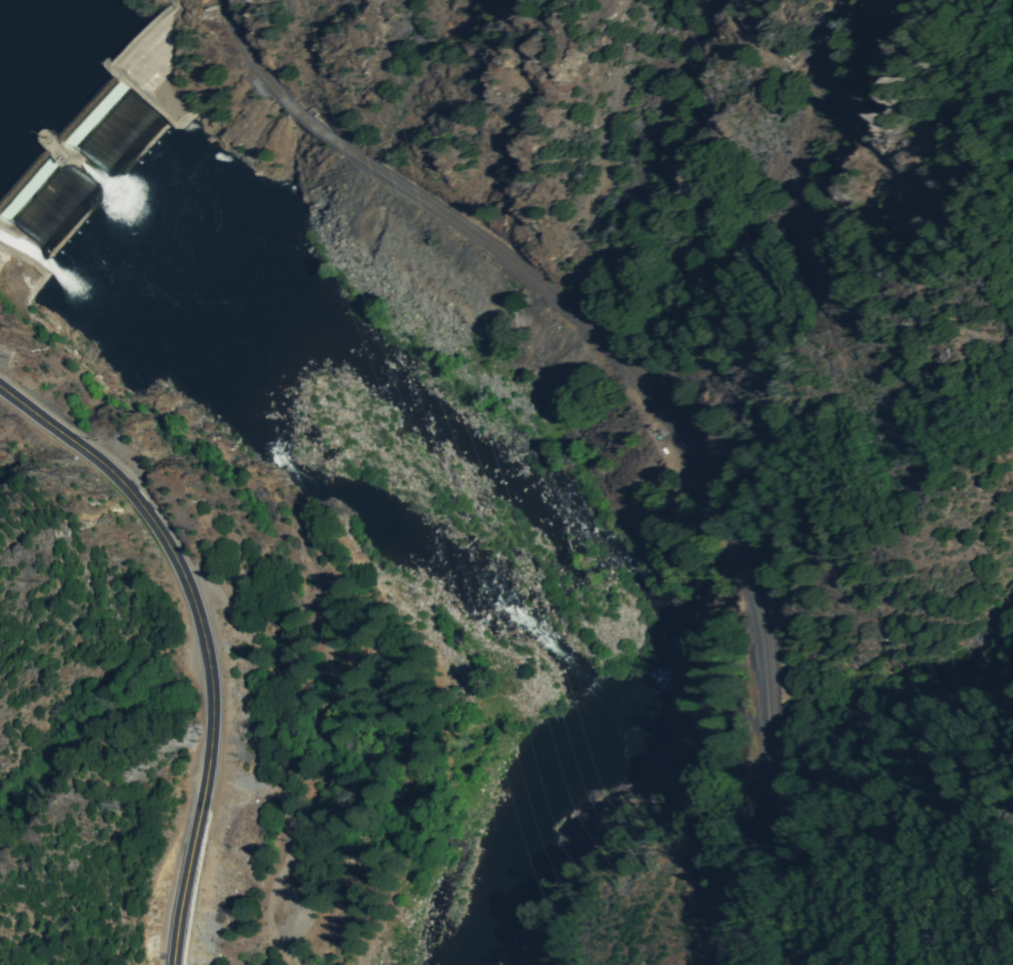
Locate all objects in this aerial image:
dam: (92, 154)
river: (3, 233)
power tower: (834, 336)
river: (154, 351)
railway: (618, 355)
river: (482, 570)
road: (205, 636)
river: (526, 836)

